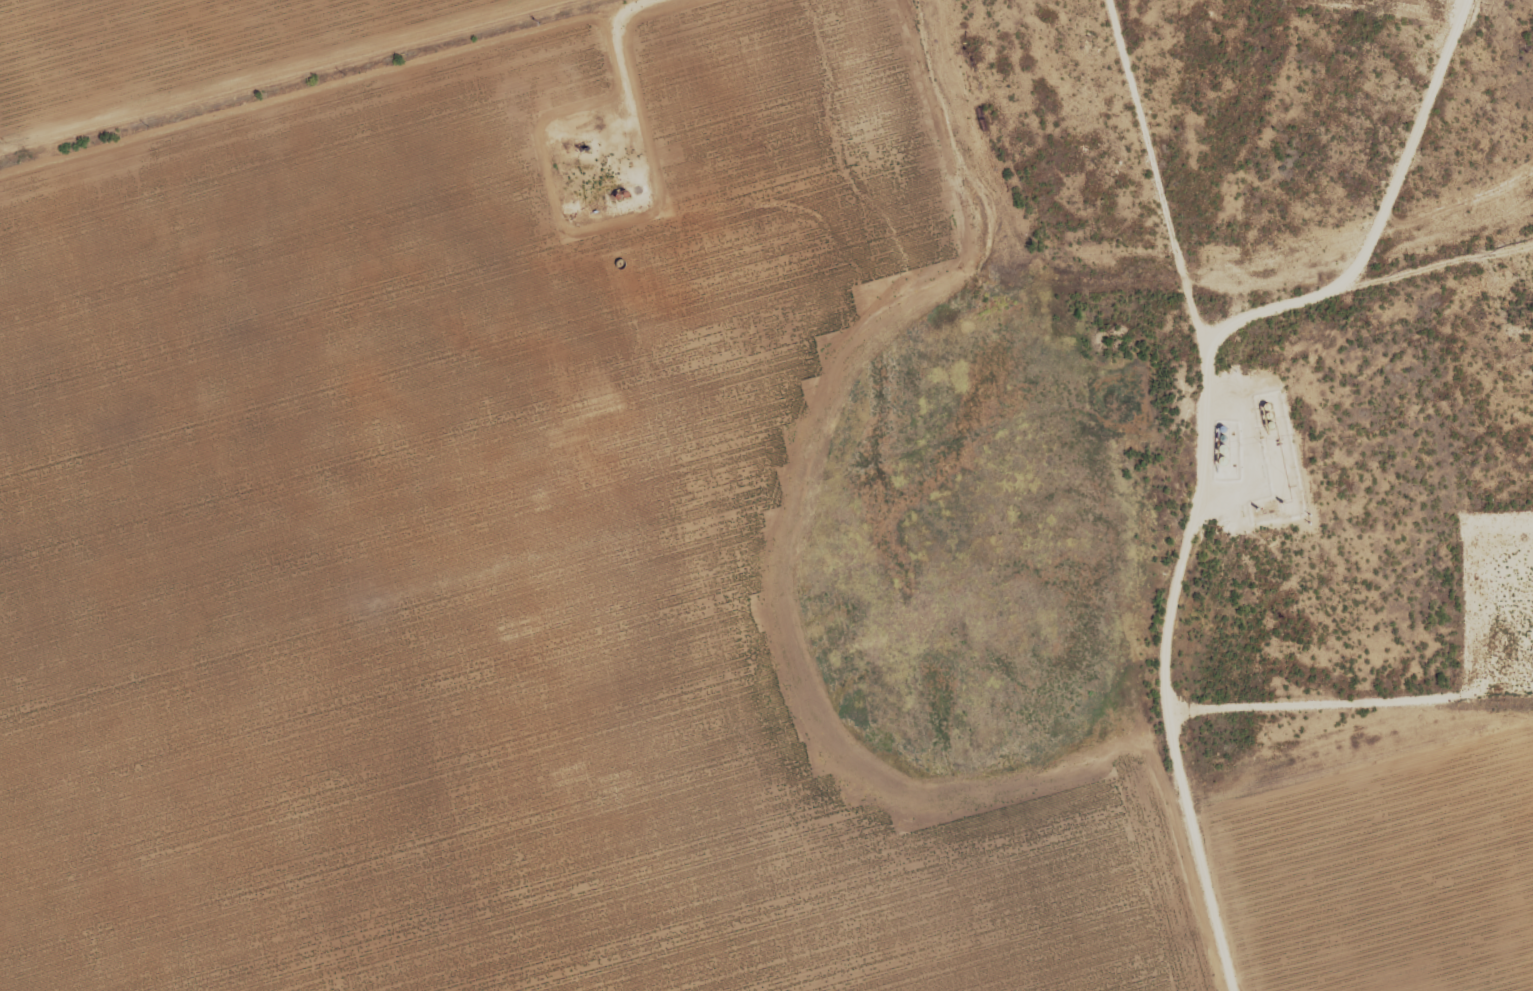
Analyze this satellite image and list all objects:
road: (1379, 220)
road: (1208, 493)

